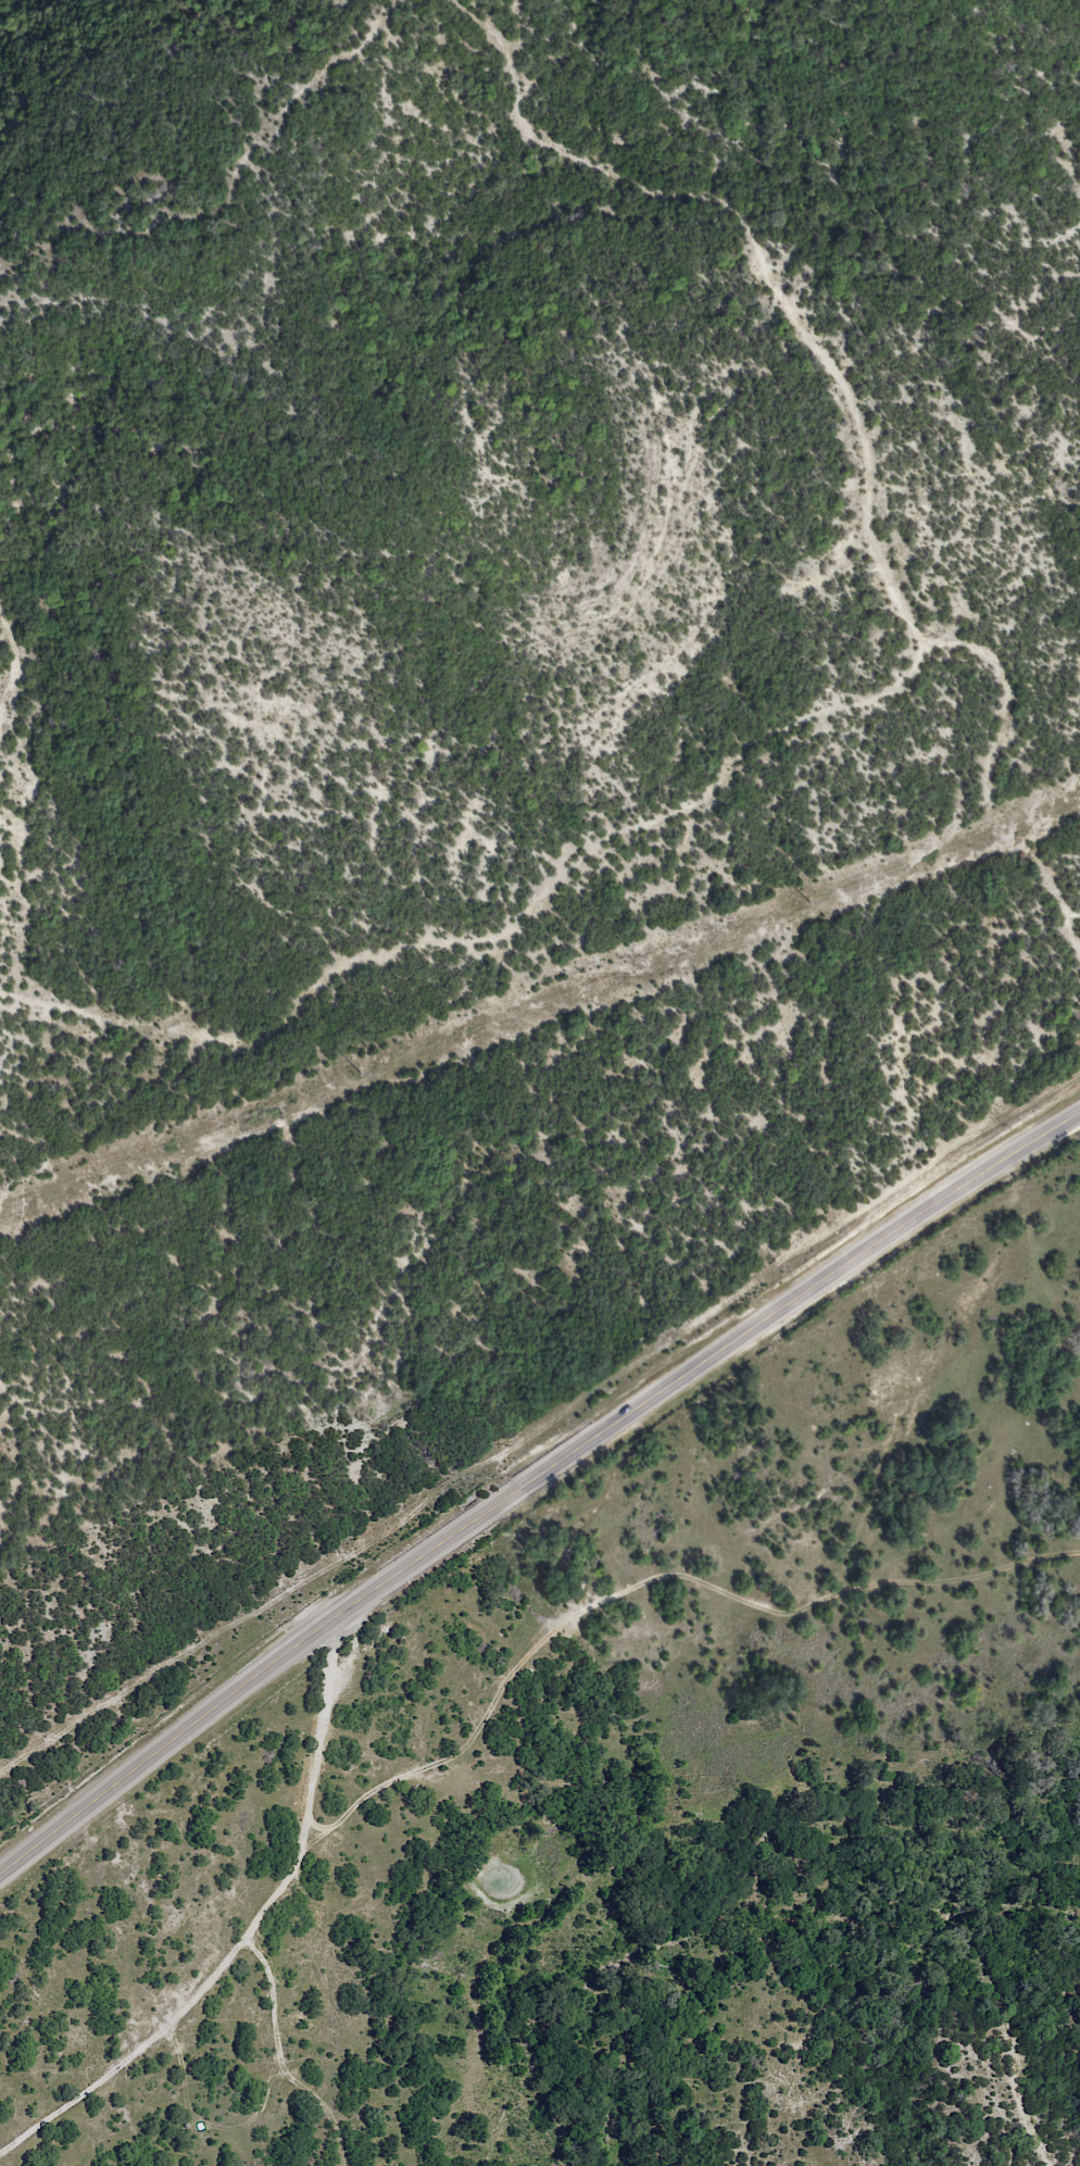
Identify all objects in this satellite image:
power tower: (812, 904)
power tower: (360, 1075)
road: (724, 1348)
road: (188, 1730)
road: (248, 1931)
road: (263, 2102)
road: (324, 2104)

